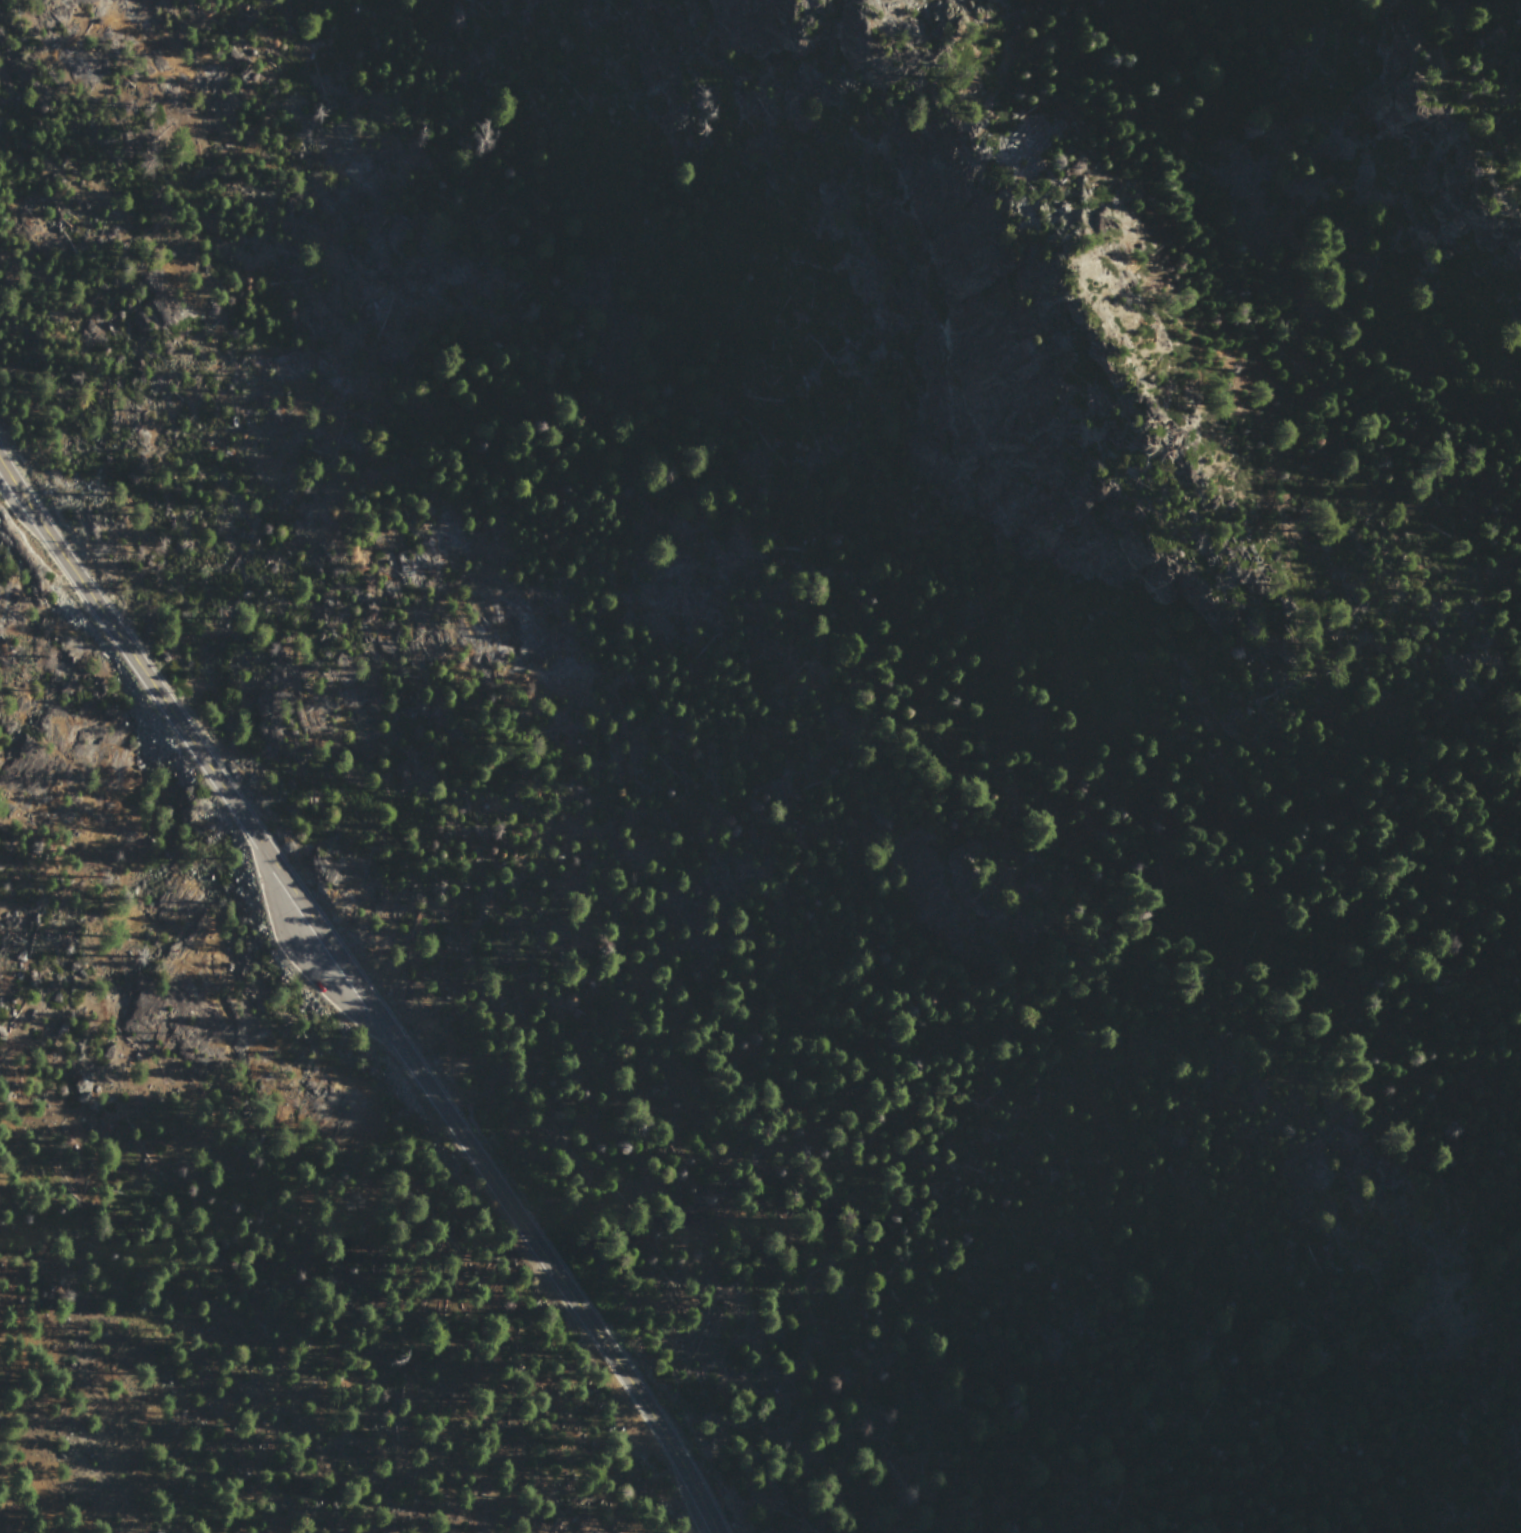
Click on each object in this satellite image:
road: (363, 996)

